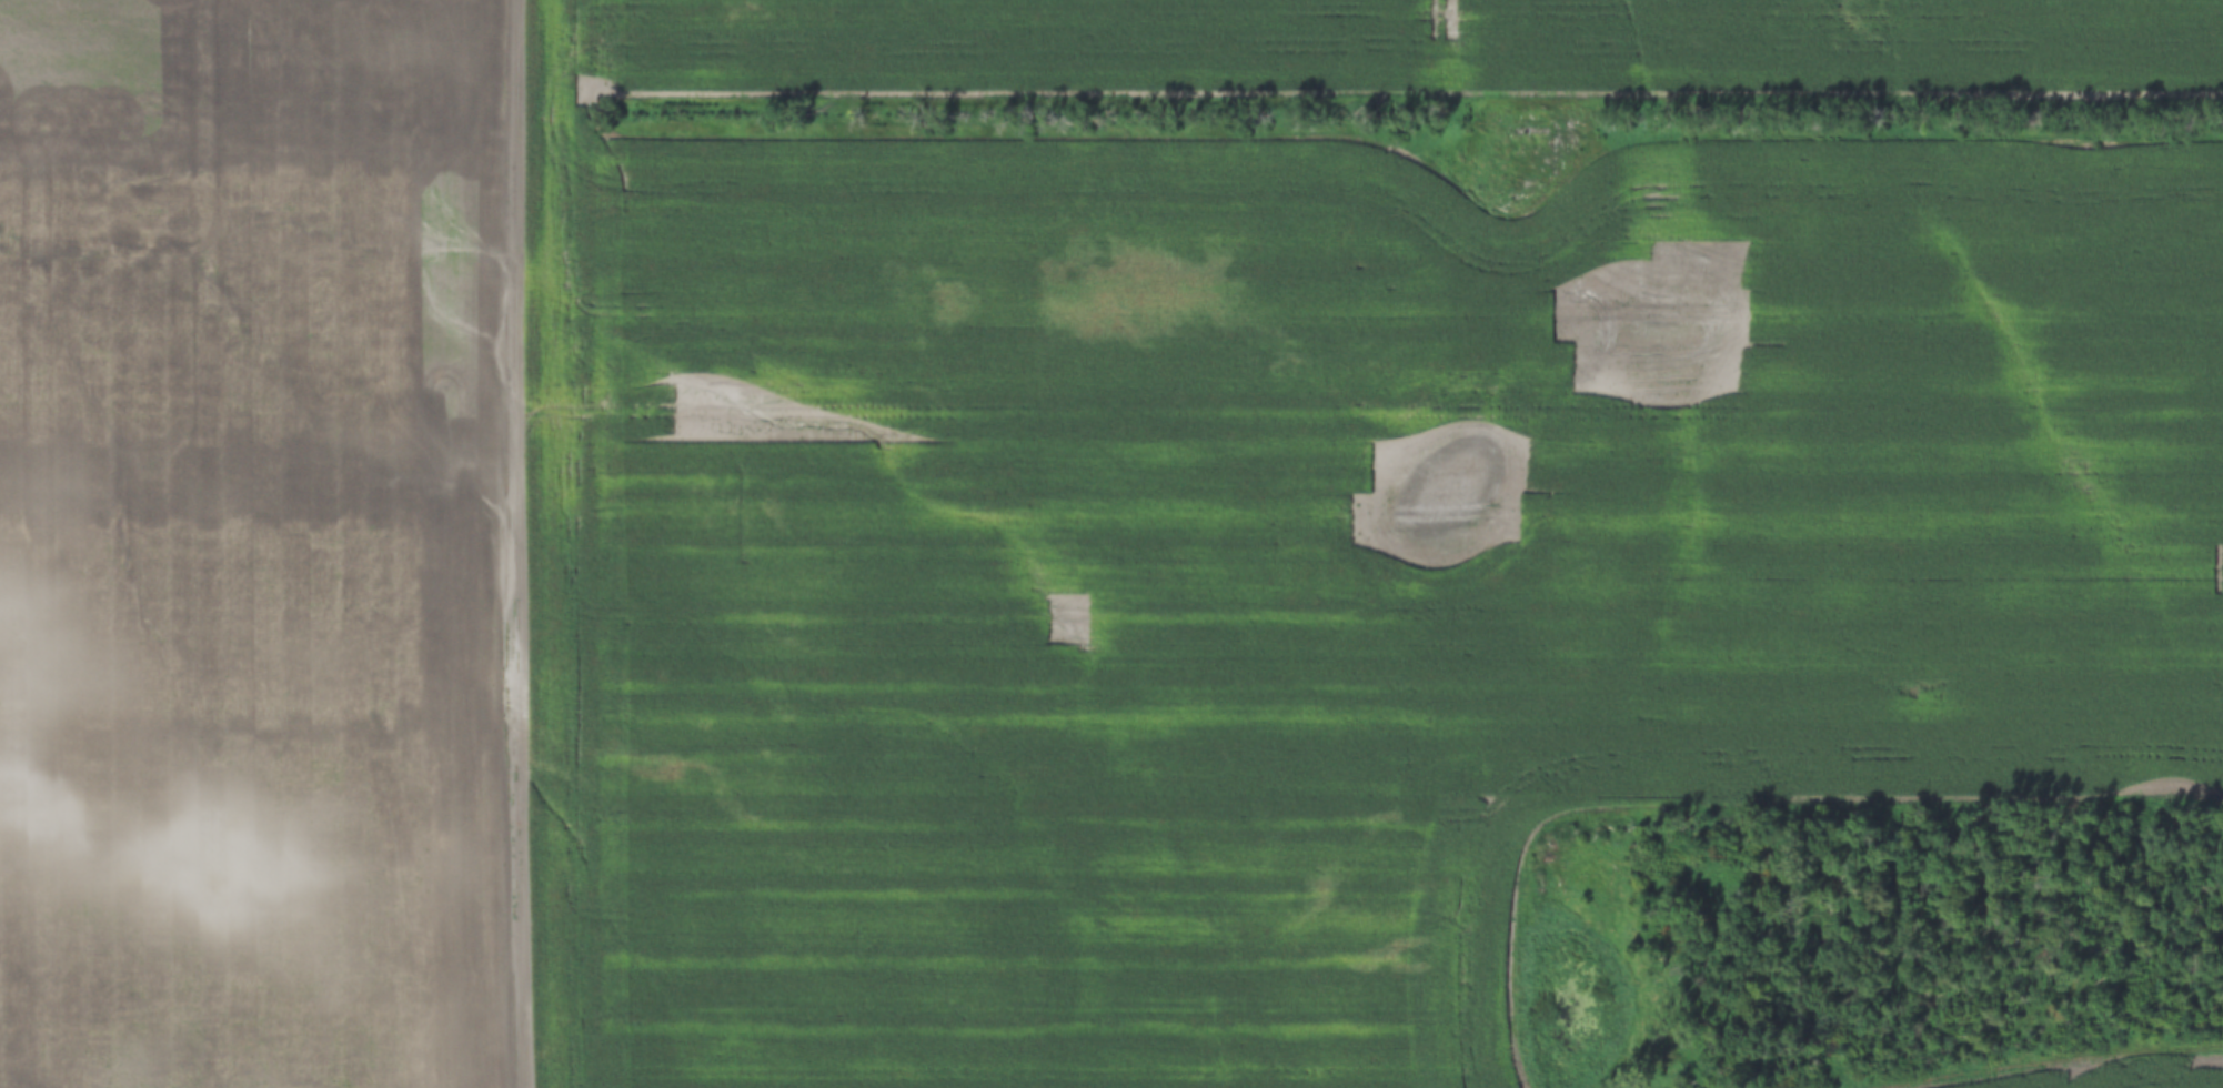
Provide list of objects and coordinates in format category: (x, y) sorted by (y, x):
road: (503, 543)

